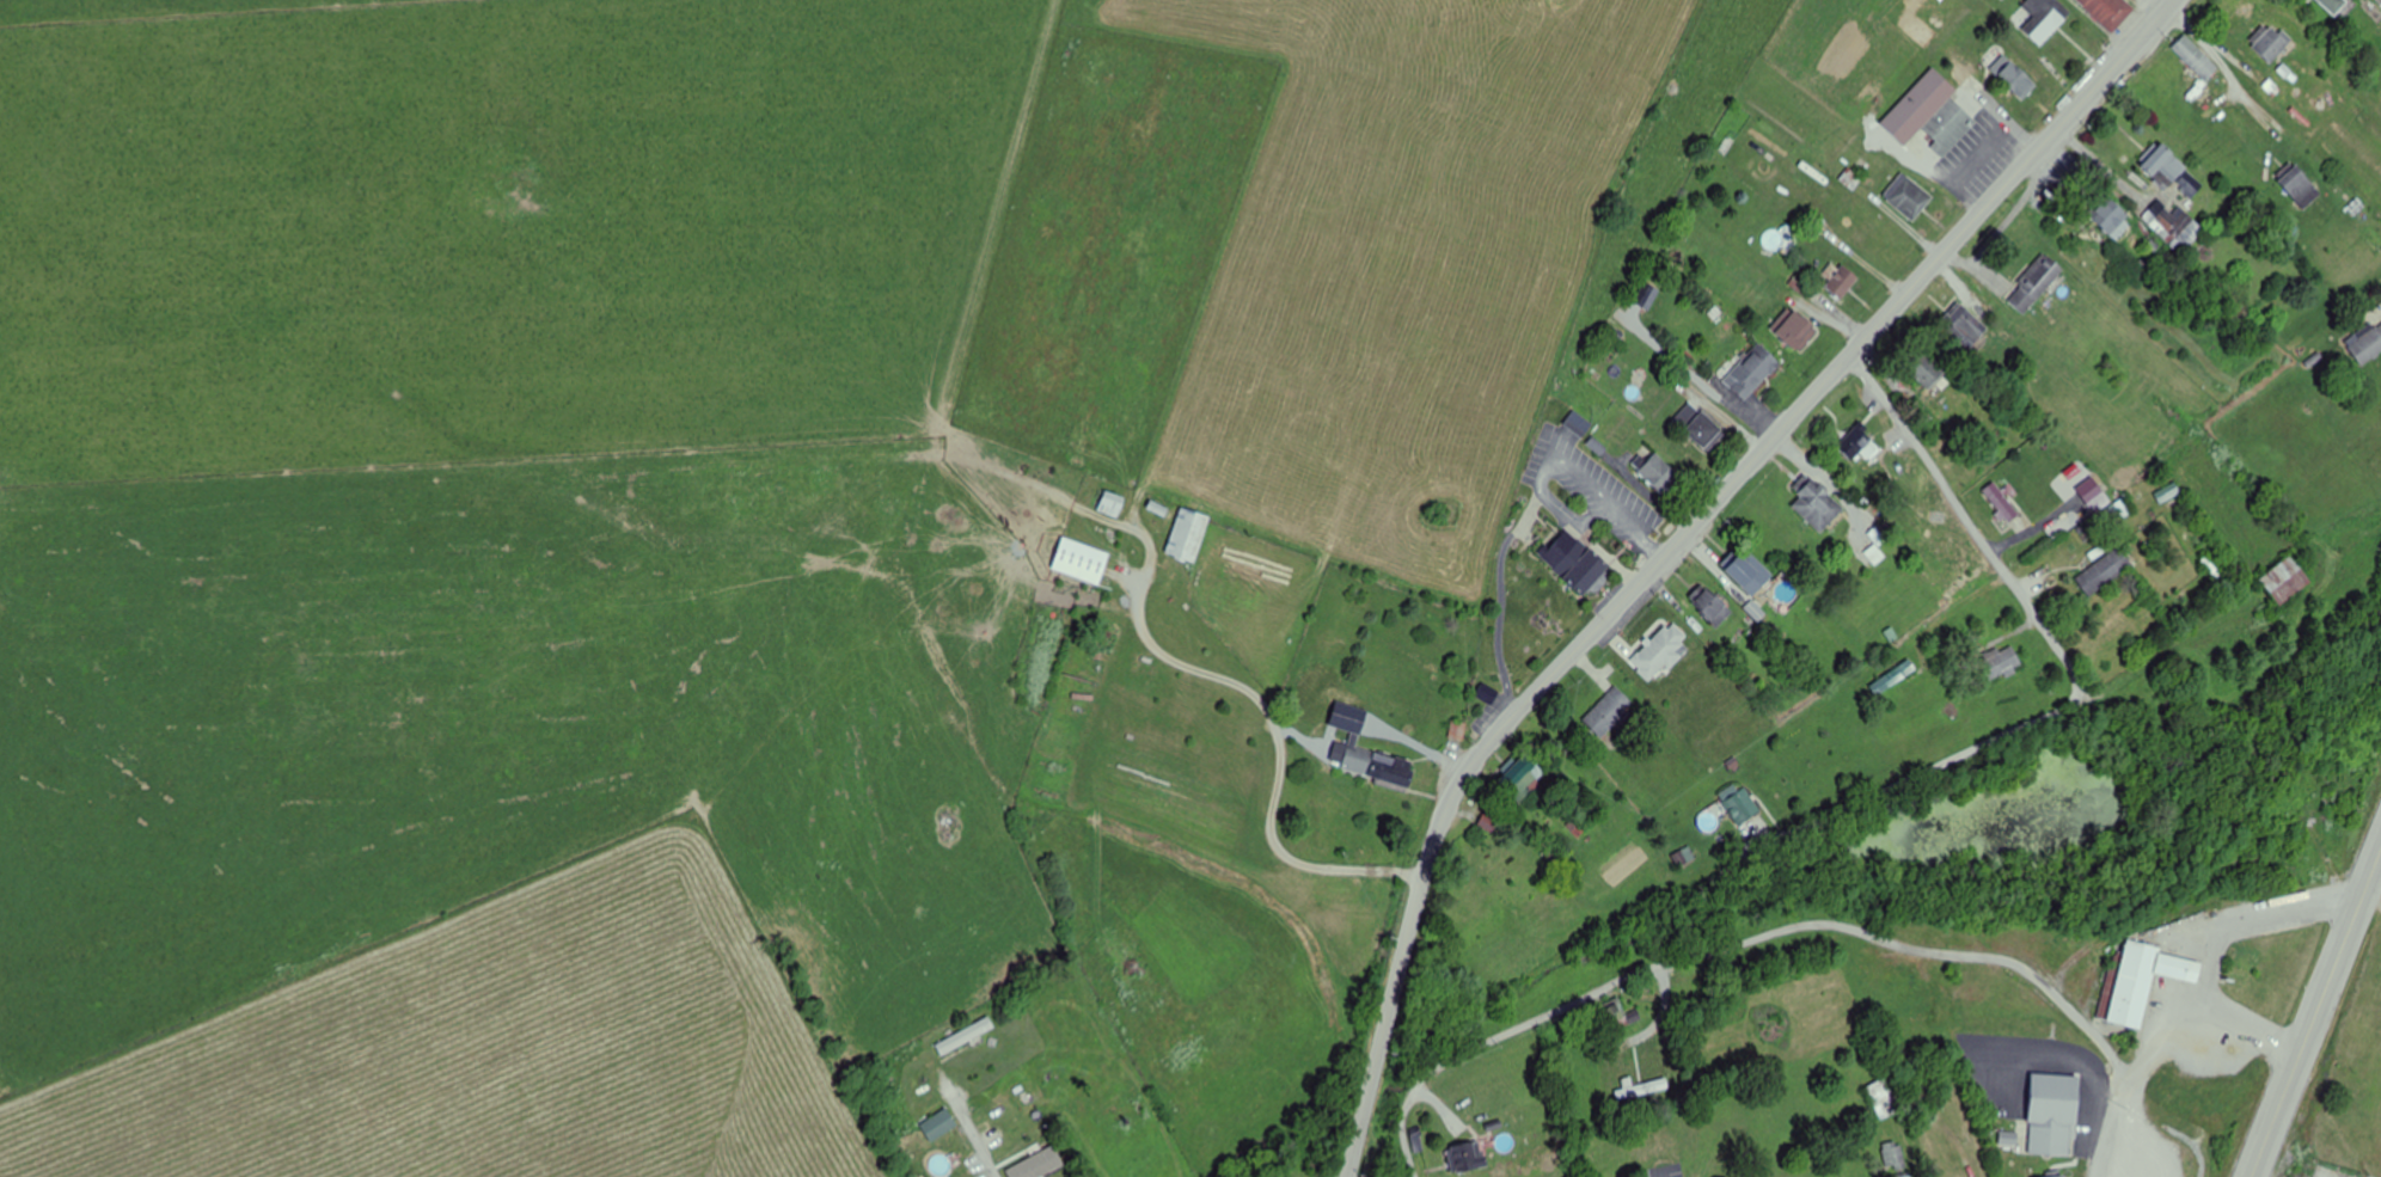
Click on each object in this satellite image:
building: (2379, 1)
building: (2333, 5)
building: (2107, 12)
building: (2043, 18)
building: (2270, 42)
building: (2196, 59)
building: (2014, 76)
building: (1973, 86)
building: (1930, 115)
building: (2173, 172)
building: (2301, 188)
building: (1909, 197)
building: (2112, 217)
building: (2174, 226)
building: (1871, 241)
building: (1840, 281)
building: (2036, 283)
building: (1965, 325)
building: (1798, 332)
building: (2368, 344)
building: (1926, 370)
building: (1752, 372)
building: (1700, 425)
building: (1857, 443)
road: (1548, 462)
crop: (778, 485)
building: (2091, 490)
building: (2001, 502)
building: (1113, 504)
building: (1818, 507)
road: (1970, 525)
building: (1189, 537)
road: (1676, 540)
flagpole: (1628, 552)
building: (1575, 560)
building: (2104, 572)
building: (1750, 574)
road: (1881, 581)
building: (2285, 582)
road: (1505, 599)
building: (1713, 608)
building: (1661, 652)
building: (2001, 663)
building: (1609, 712)
building: (1145, 719)
road: (1274, 721)
building: (1379, 767)
building: (1525, 780)
road: (1883, 783)
building: (1742, 805)
road: (1979, 956)
road: (2214, 956)
building: (2179, 964)
gas station: (2179, 964)
building: (2135, 980)
road: (1553, 1011)
road: (2316, 1012)
building: (1611, 1014)
road: (2244, 1024)
building: (967, 1036)
road: (2057, 1052)
building: (1883, 1098)
building: (2052, 1110)
road: (2095, 1116)
building: (938, 1124)
road: (2110, 1139)
road: (975, 1140)
building: (1893, 1154)
building: (1469, 1155)
flagpole: (2067, 1169)
flagpole: (2071, 1171)
road: (1661, 1172)
building: (2055, 1175)
flagpole: (2067, 1176)

